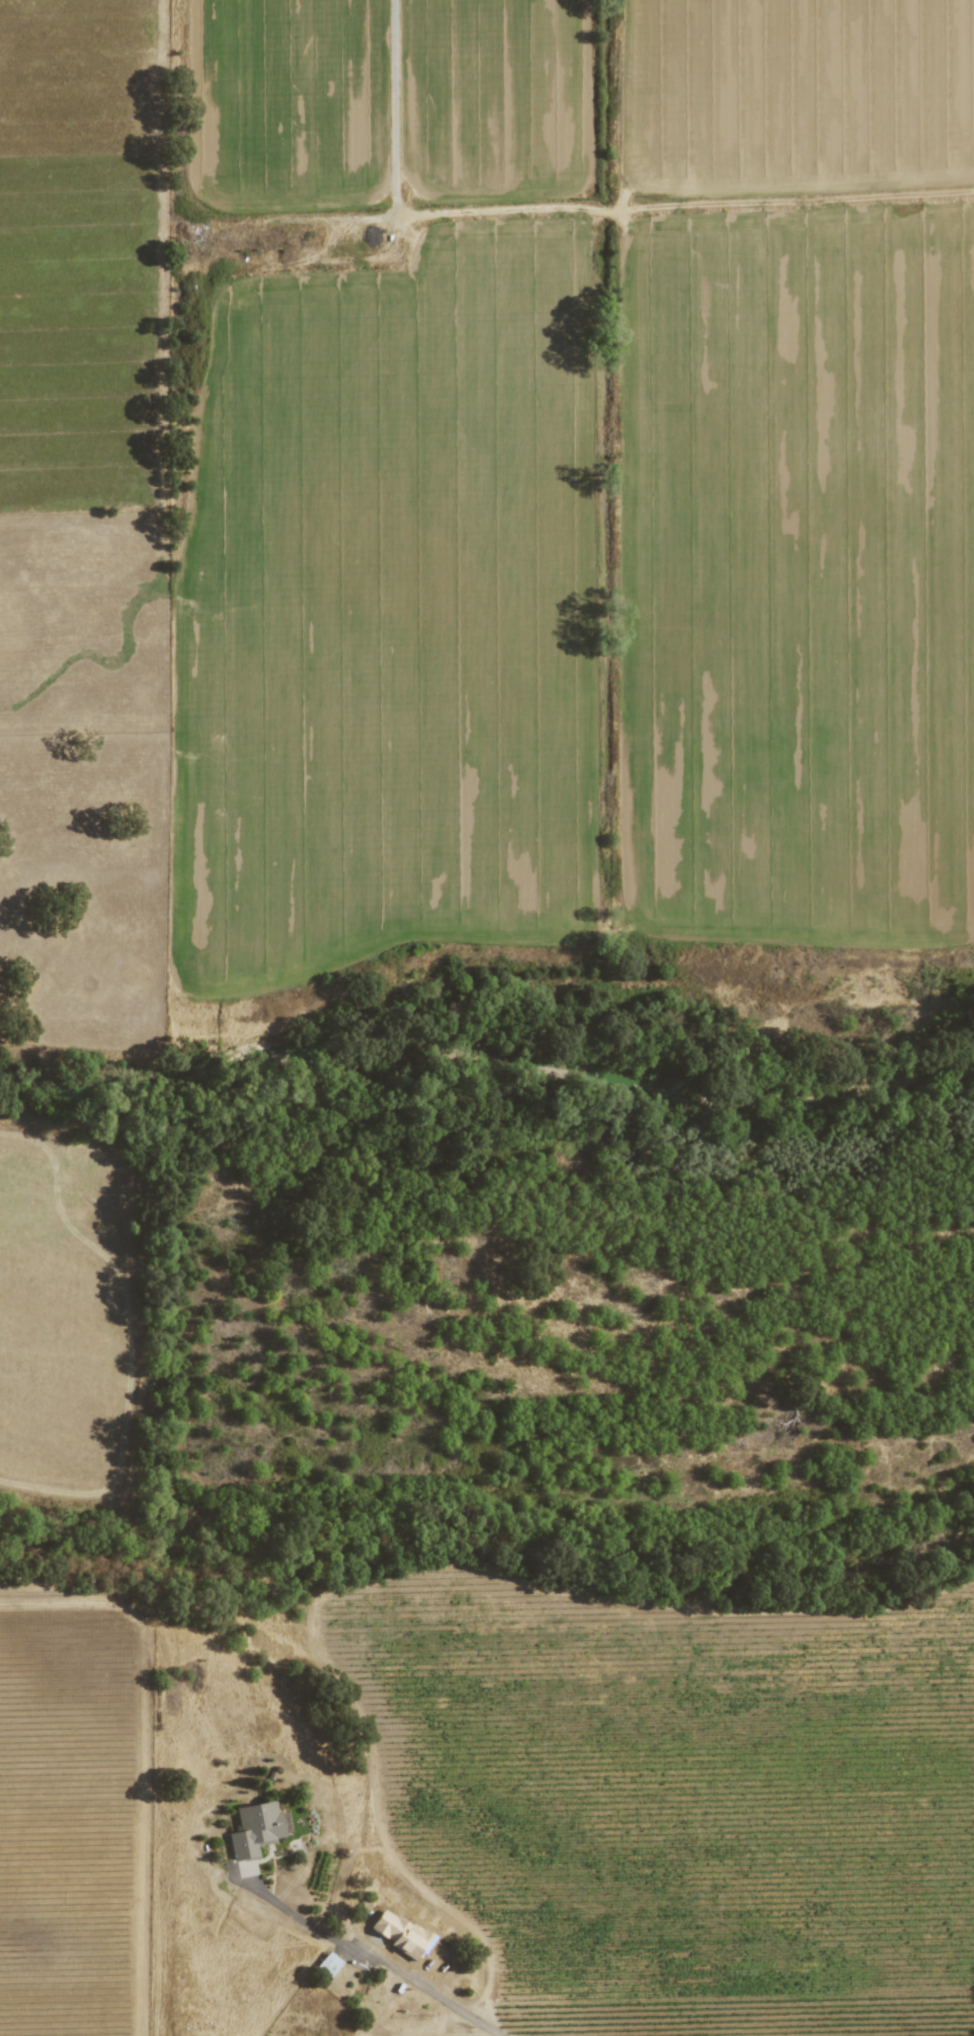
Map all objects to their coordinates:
building: (254, 1830)
building: (396, 1942)
road: (380, 1960)
building: (426, 1963)
building: (327, 1965)

